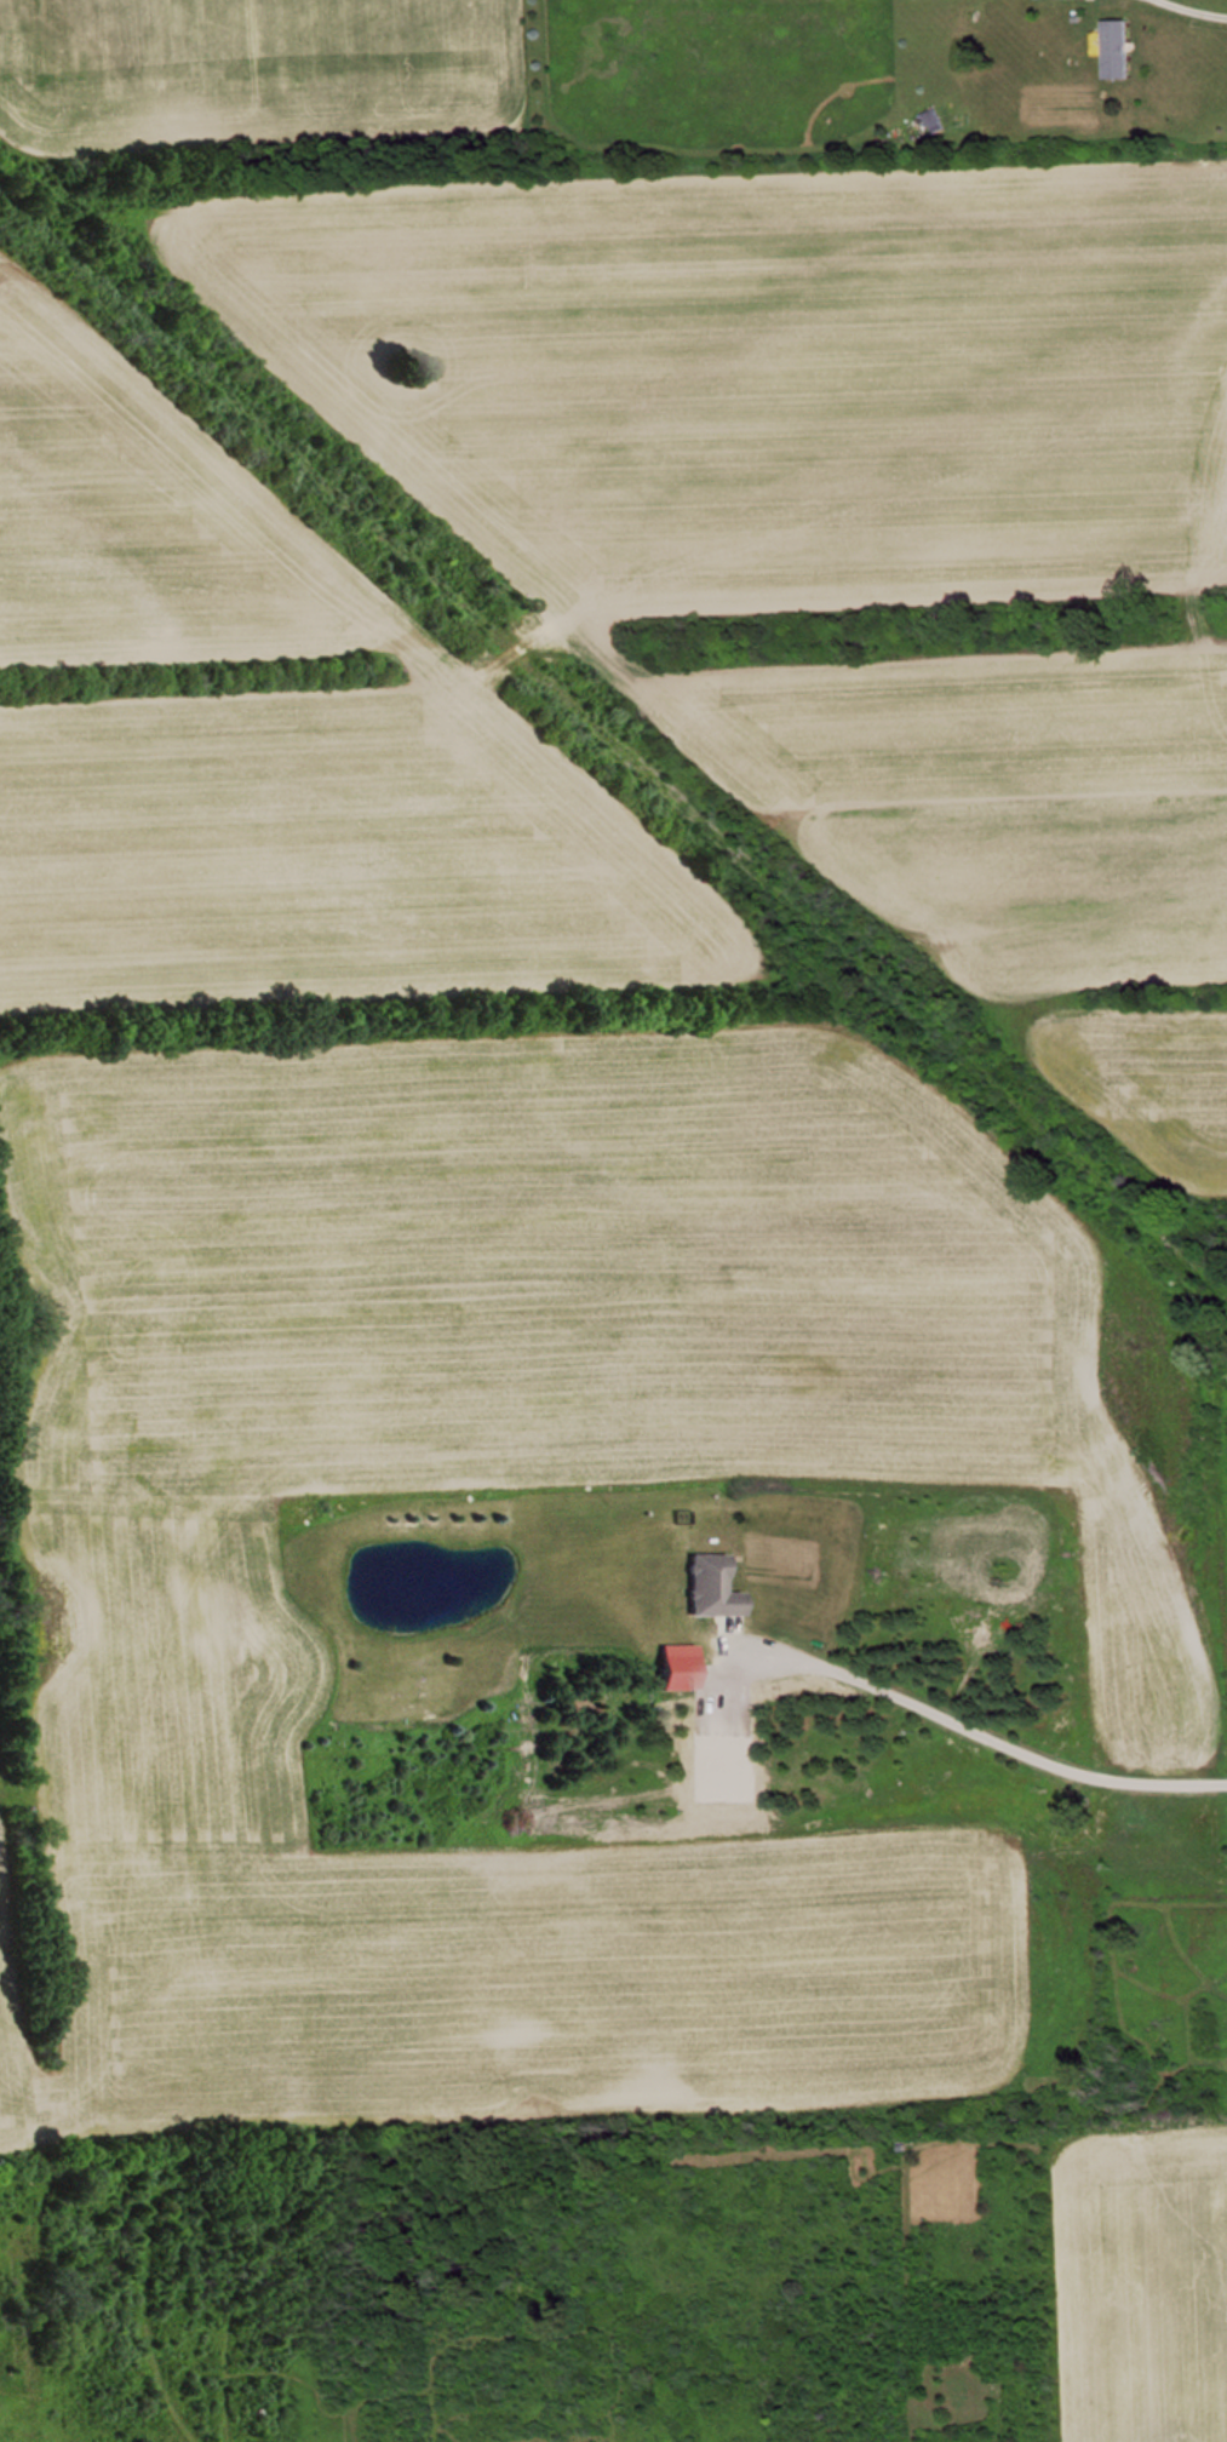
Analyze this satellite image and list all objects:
building: (1122, 50)
railway: (613, 738)
building: (717, 1587)

